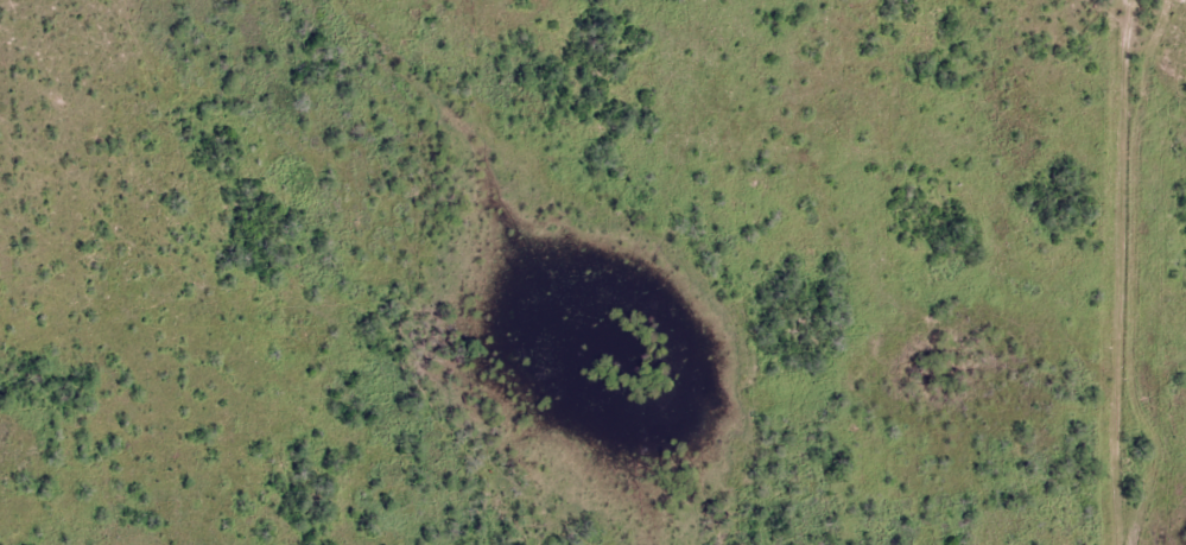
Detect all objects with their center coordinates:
road: (1066, 272)

